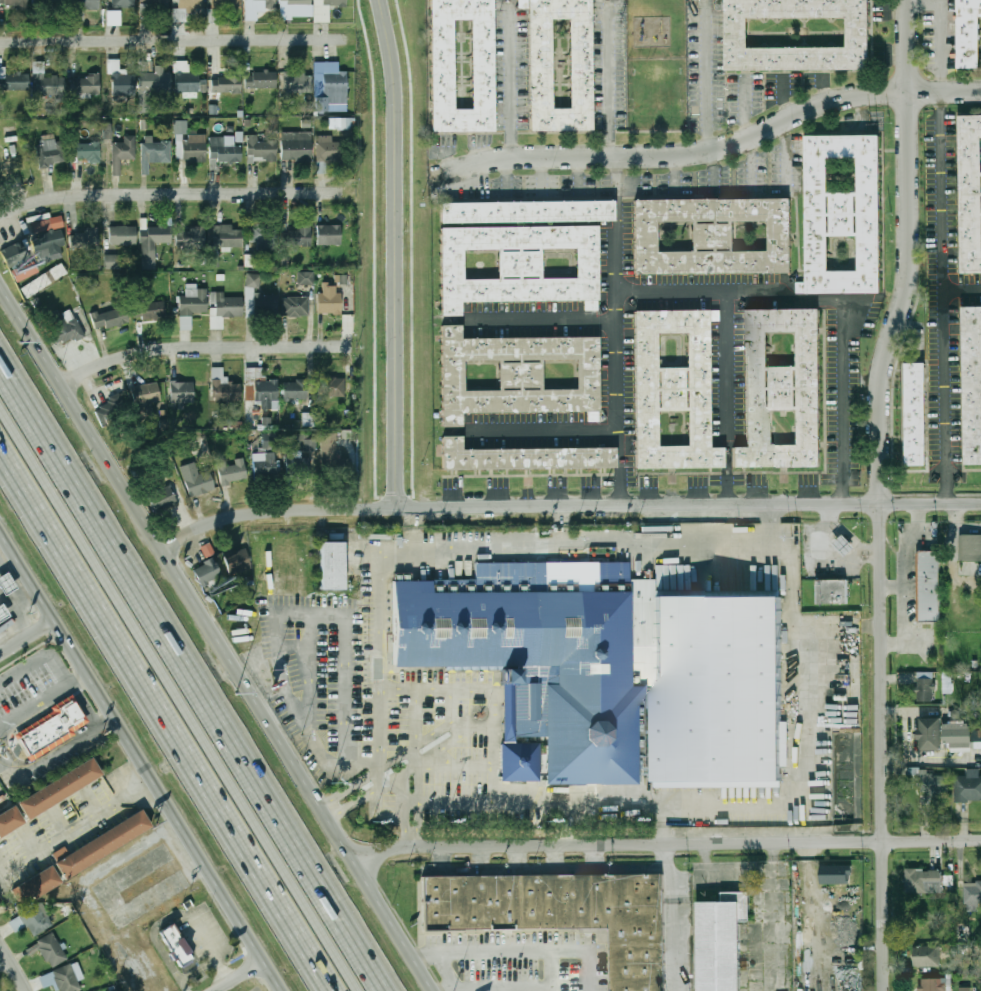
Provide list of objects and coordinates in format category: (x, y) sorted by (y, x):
building: (14, 2)
building: (45, 2)
building: (122, 3)
building: (153, 3)
building: (84, 4)
road: (937, 5)
building: (256, 7)
building: (294, 8)
building: (185, 9)
building: (324, 9)
building: (112, 17)
building: (737, 32)
building: (969, 33)
road: (173, 42)
road: (939, 52)
building: (578, 64)
building: (482, 65)
building: (186, 78)
road: (509, 78)
road: (611, 78)
building: (120, 79)
building: (260, 79)
road: (707, 79)
building: (14, 80)
building: (43, 80)
building: (152, 81)
building: (297, 82)
building: (225, 83)
building: (87, 85)
building: (329, 87)
road: (781, 96)
road: (742, 105)
building: (338, 123)
building: (180, 126)
building: (106, 131)
building: (10, 133)
building: (295, 145)
building: (190, 147)
building: (260, 149)
building: (326, 149)
building: (50, 151)
building: (86, 151)
road: (709, 151)
building: (122, 152)
building: (154, 152)
road: (749, 164)
road: (712, 170)
road: (675, 172)
road: (731, 191)
building: (970, 192)
road: (172, 196)
building: (519, 211)
building: (842, 213)
building: (47, 224)
building: (328, 234)
building: (122, 235)
building: (191, 236)
building: (226, 236)
building: (264, 236)
building: (296, 237)
building: (713, 238)
building: (84, 239)
building: (152, 243)
building: (48, 245)
road: (376, 247)
building: (15, 253)
road: (394, 253)
building: (214, 260)
building: (250, 260)
building: (111, 261)
building: (517, 265)
road: (413, 266)
building: (25, 271)
building: (305, 278)
building: (43, 280)
building: (252, 280)
building: (79, 282)
road: (961, 288)
road: (5, 292)
road: (941, 296)
building: (328, 299)
road: (826, 301)
building: (259, 303)
building: (191, 304)
building: (295, 306)
building: (224, 307)
building: (149, 310)
building: (108, 318)
road: (542, 318)
building: (65, 326)
road: (617, 330)
road: (205, 348)
road: (727, 368)
building: (516, 376)
building: (971, 383)
building: (223, 386)
building: (330, 386)
building: (260, 388)
building: (782, 389)
building: (295, 390)
building: (181, 391)
building: (674, 391)
building: (145, 394)
building: (111, 410)
building: (916, 413)
building: (307, 419)
road: (545, 430)
building: (271, 440)
building: (306, 442)
building: (328, 449)
building: (523, 457)
building: (264, 461)
building: (231, 470)
building: (195, 479)
road: (352, 479)
road: (877, 493)
building: (161, 499)
road: (567, 506)
road: (770, 524)
road: (562, 527)
road: (412, 530)
road: (907, 543)
building: (844, 544)
building: (969, 547)
road: (471, 550)
building: (237, 560)
building: (331, 566)
road: (27, 572)
building: (207, 573)
building: (7, 583)
building: (927, 586)
road: (16, 591)
building: (831, 591)
road: (11, 612)
building: (3, 613)
road: (275, 613)
road: (382, 613)
road: (902, 613)
road: (27, 631)
road: (216, 637)
road: (70, 642)
road: (38, 660)
building: (611, 671)
road: (77, 675)
road: (192, 675)
road: (67, 681)
building: (925, 686)
road: (99, 693)
road: (179, 696)
road: (32, 702)
road: (83, 703)
road: (166, 719)
road: (105, 721)
road: (287, 725)
building: (53, 729)
building: (930, 733)
building: (957, 734)
road: (41, 761)
building: (931, 782)
road: (350, 785)
building: (968, 786)
building: (60, 788)
road: (354, 799)
road: (763, 801)
building: (10, 819)
road: (657, 824)
road: (76, 825)
road: (418, 828)
road: (407, 829)
building: (102, 844)
road: (685, 845)
road: (367, 849)
road: (197, 853)
road: (378, 865)
building: (835, 874)
building: (923, 881)
building: (40, 883)
building: (972, 895)
building: (563, 913)
road: (670, 918)
building: (32, 920)
road: (194, 923)
building: (718, 945)
building: (177, 946)
building: (49, 950)
road: (483, 951)
road: (568, 952)
building: (927, 956)
road: (5, 960)
road: (169, 962)
road: (15, 965)
road: (200, 969)
road: (240, 975)
building: (68, 977)
building: (933, 984)
road: (184, 986)
road: (500, 988)
building: (965, 989)

